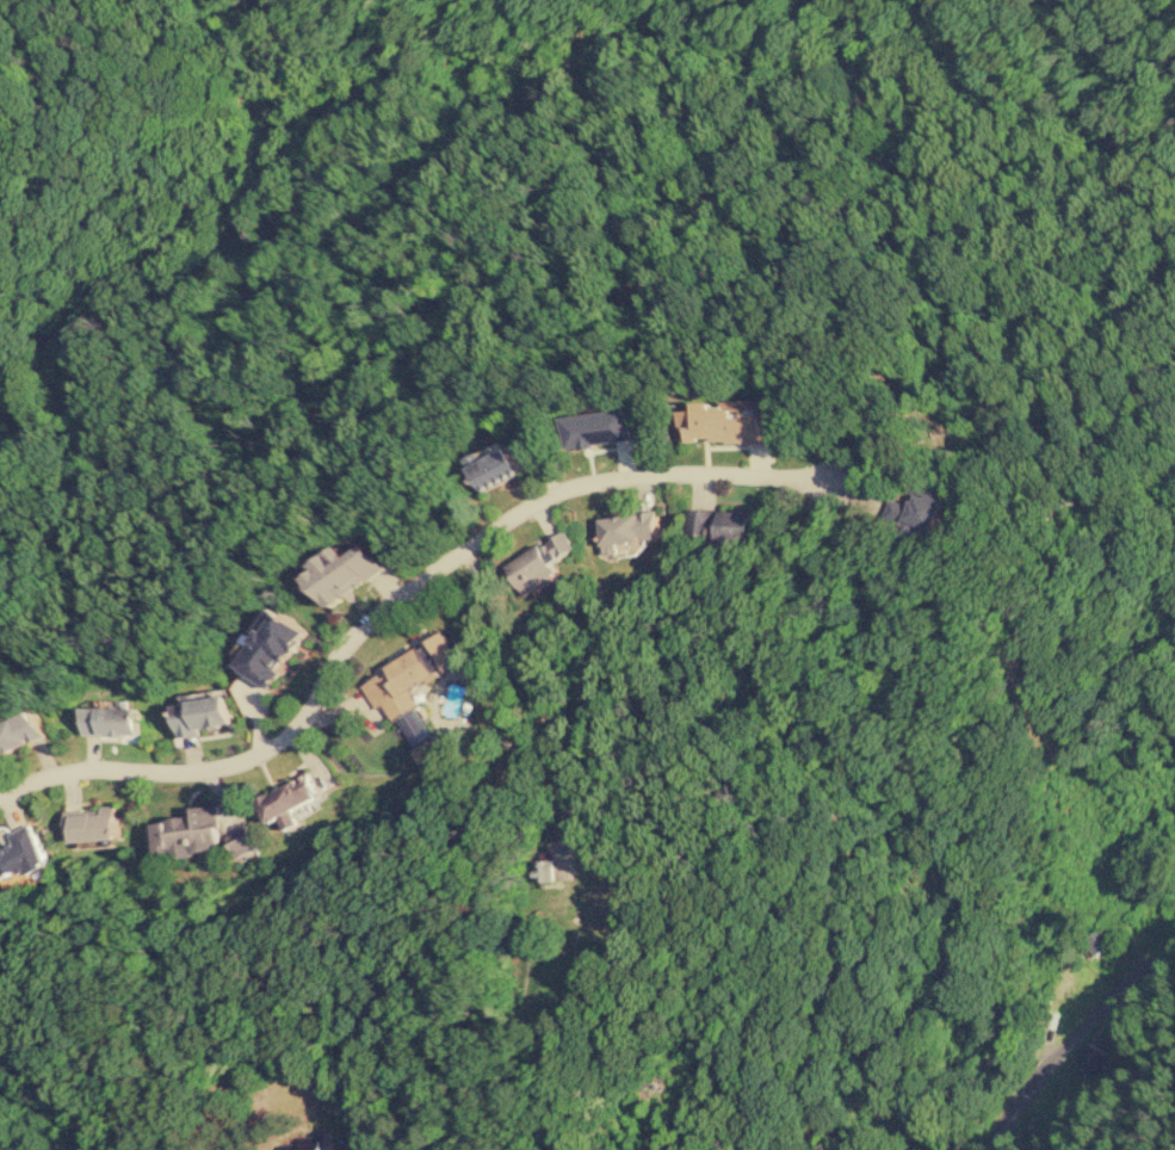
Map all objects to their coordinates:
building: (730, 421)
building: (600, 427)
building: (494, 466)
building: (916, 507)
building: (701, 523)
building: (737, 525)
building: (627, 528)
building: (539, 562)
building: (345, 571)
road: (395, 600)
building: (412, 685)
building: (202, 715)
building: (111, 719)
building: (19, 731)
building: (427, 749)
building: (290, 797)
building: (93, 824)
building: (187, 834)
building: (242, 841)
building: (21, 853)
building: (1074, 985)
road: (1068, 1030)
building: (297, 1144)

